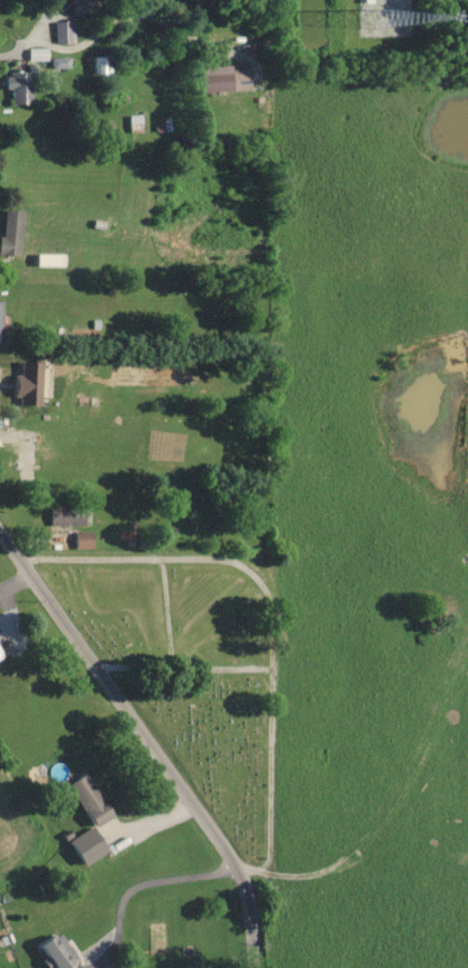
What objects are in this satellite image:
building: (65, 32)
building: (38, 55)
building: (60, 64)
building: (101, 66)
building: (224, 80)
building: (21, 88)
building: (11, 233)
building: (1, 325)
building: (28, 384)
building: (27, 459)
building: (68, 517)
building: (84, 540)
road: (145, 731)
building: (90, 800)
building: (89, 846)
building: (58, 951)

